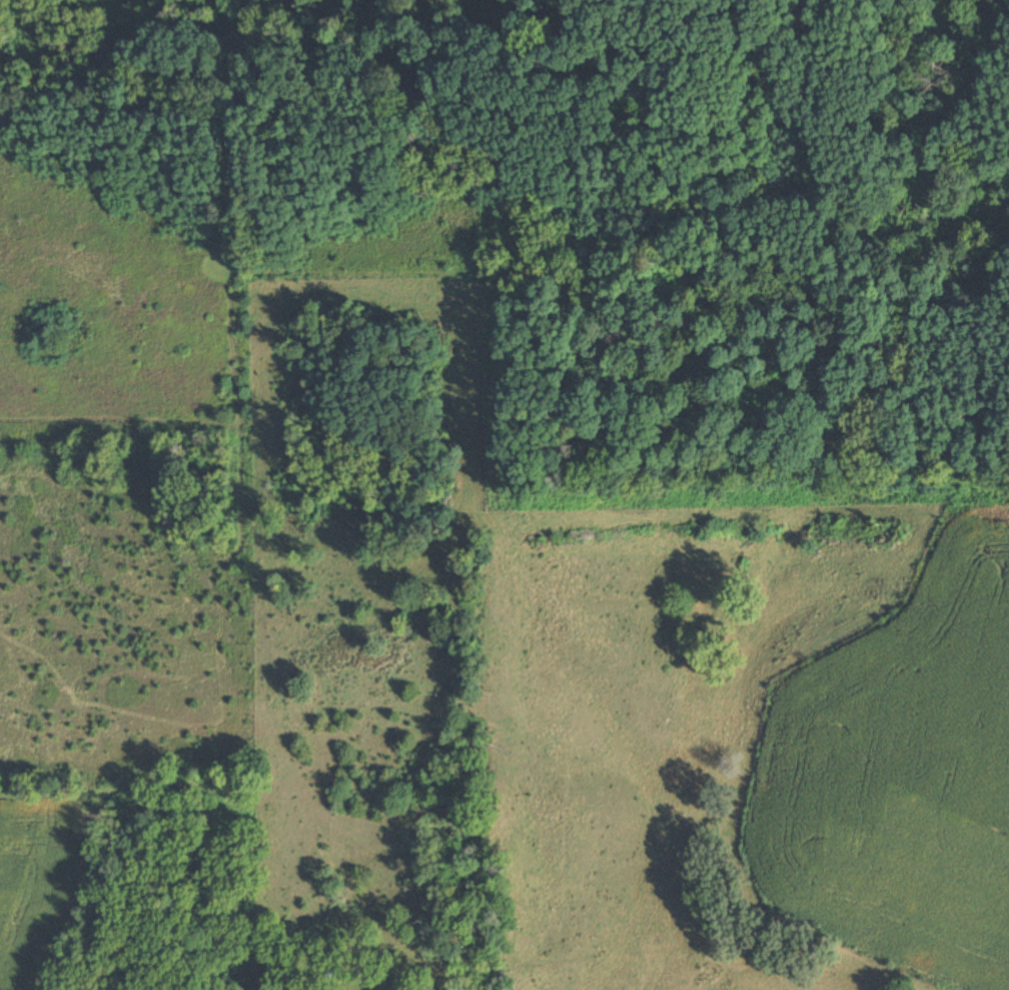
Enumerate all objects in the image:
crop: (897, 774)
crop: (37, 877)

